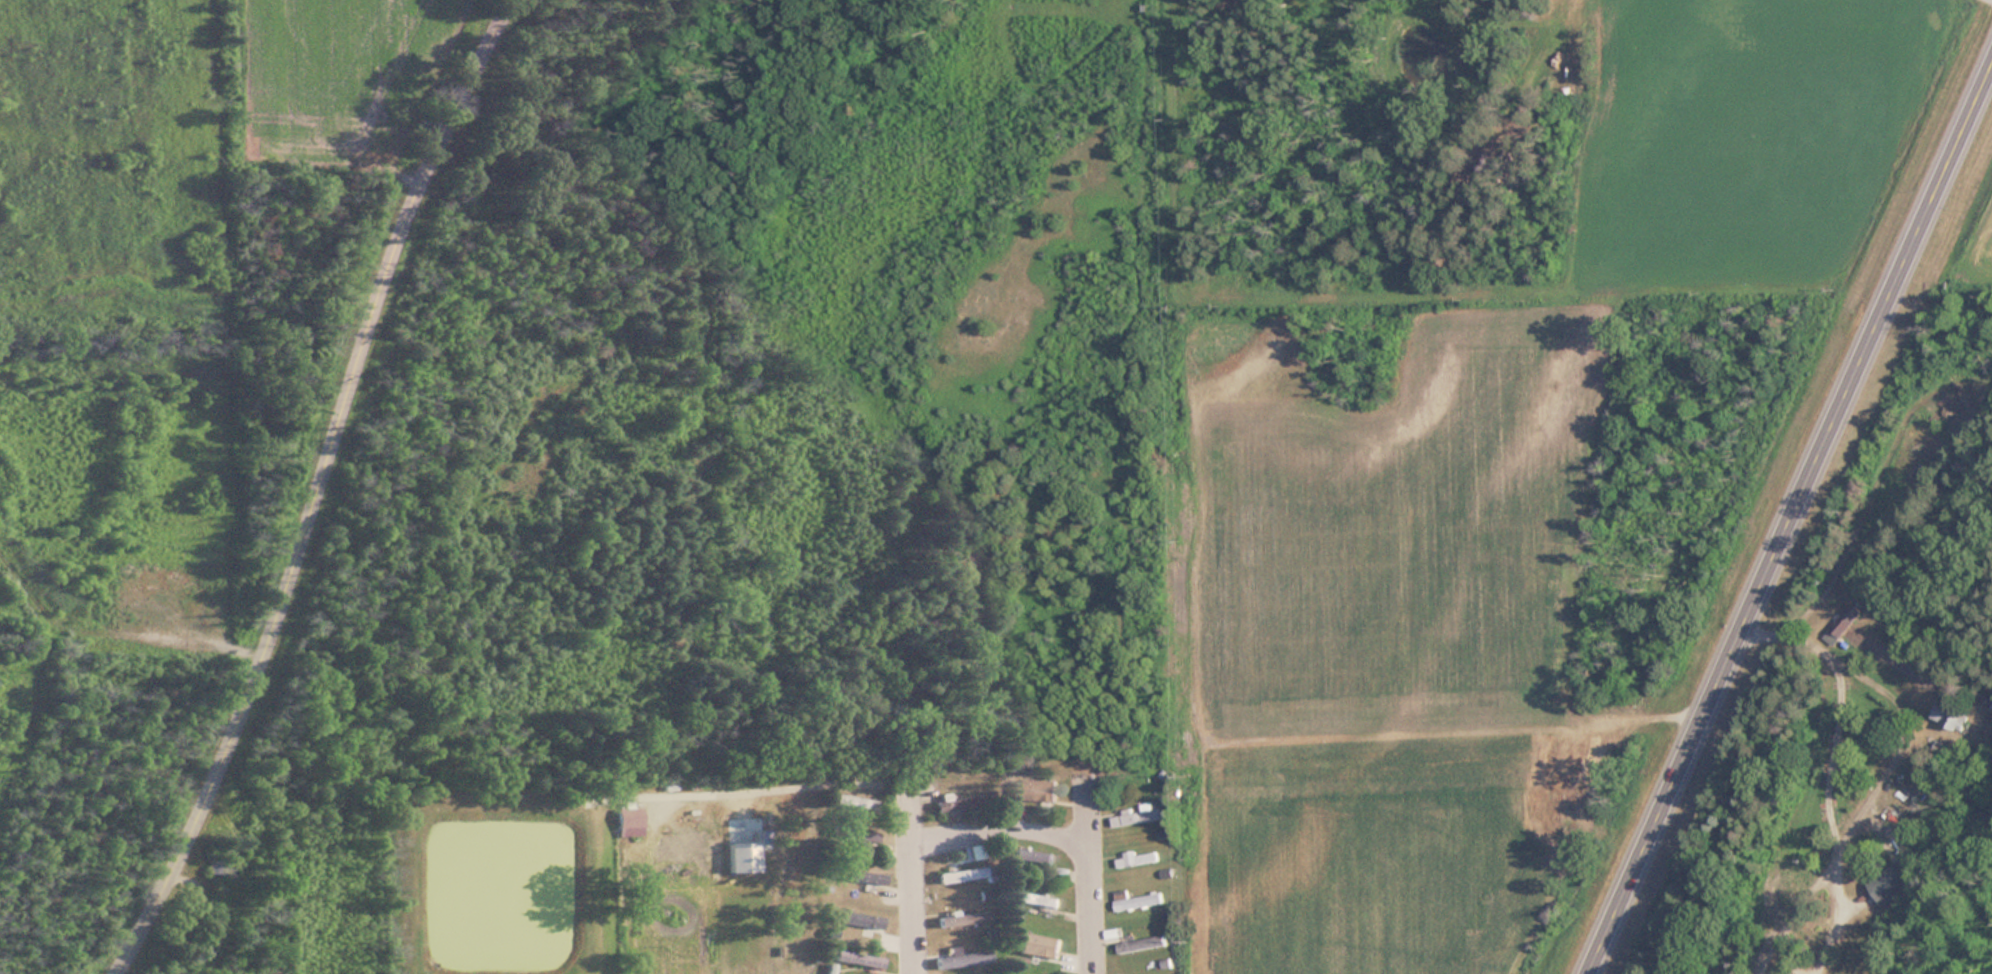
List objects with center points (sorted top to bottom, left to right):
road: (326, 489)
road: (1790, 519)
building: (1842, 624)
building: (1898, 645)
building: (1950, 716)
building: (1140, 776)
building: (853, 801)
building: (955, 803)
building: (1137, 817)
building: (628, 821)
road: (996, 829)
building: (857, 834)
building: (1039, 858)
building: (1139, 859)
building: (219, 864)
building: (962, 873)
building: (855, 875)
road: (1088, 877)
road: (909, 882)
building: (1891, 882)
building: (1038, 898)
building: (1140, 901)
building: (961, 916)
building: (856, 917)
building: (1144, 940)
building: (1039, 941)
building: (961, 957)
building: (853, 958)
building: (1021, 973)

